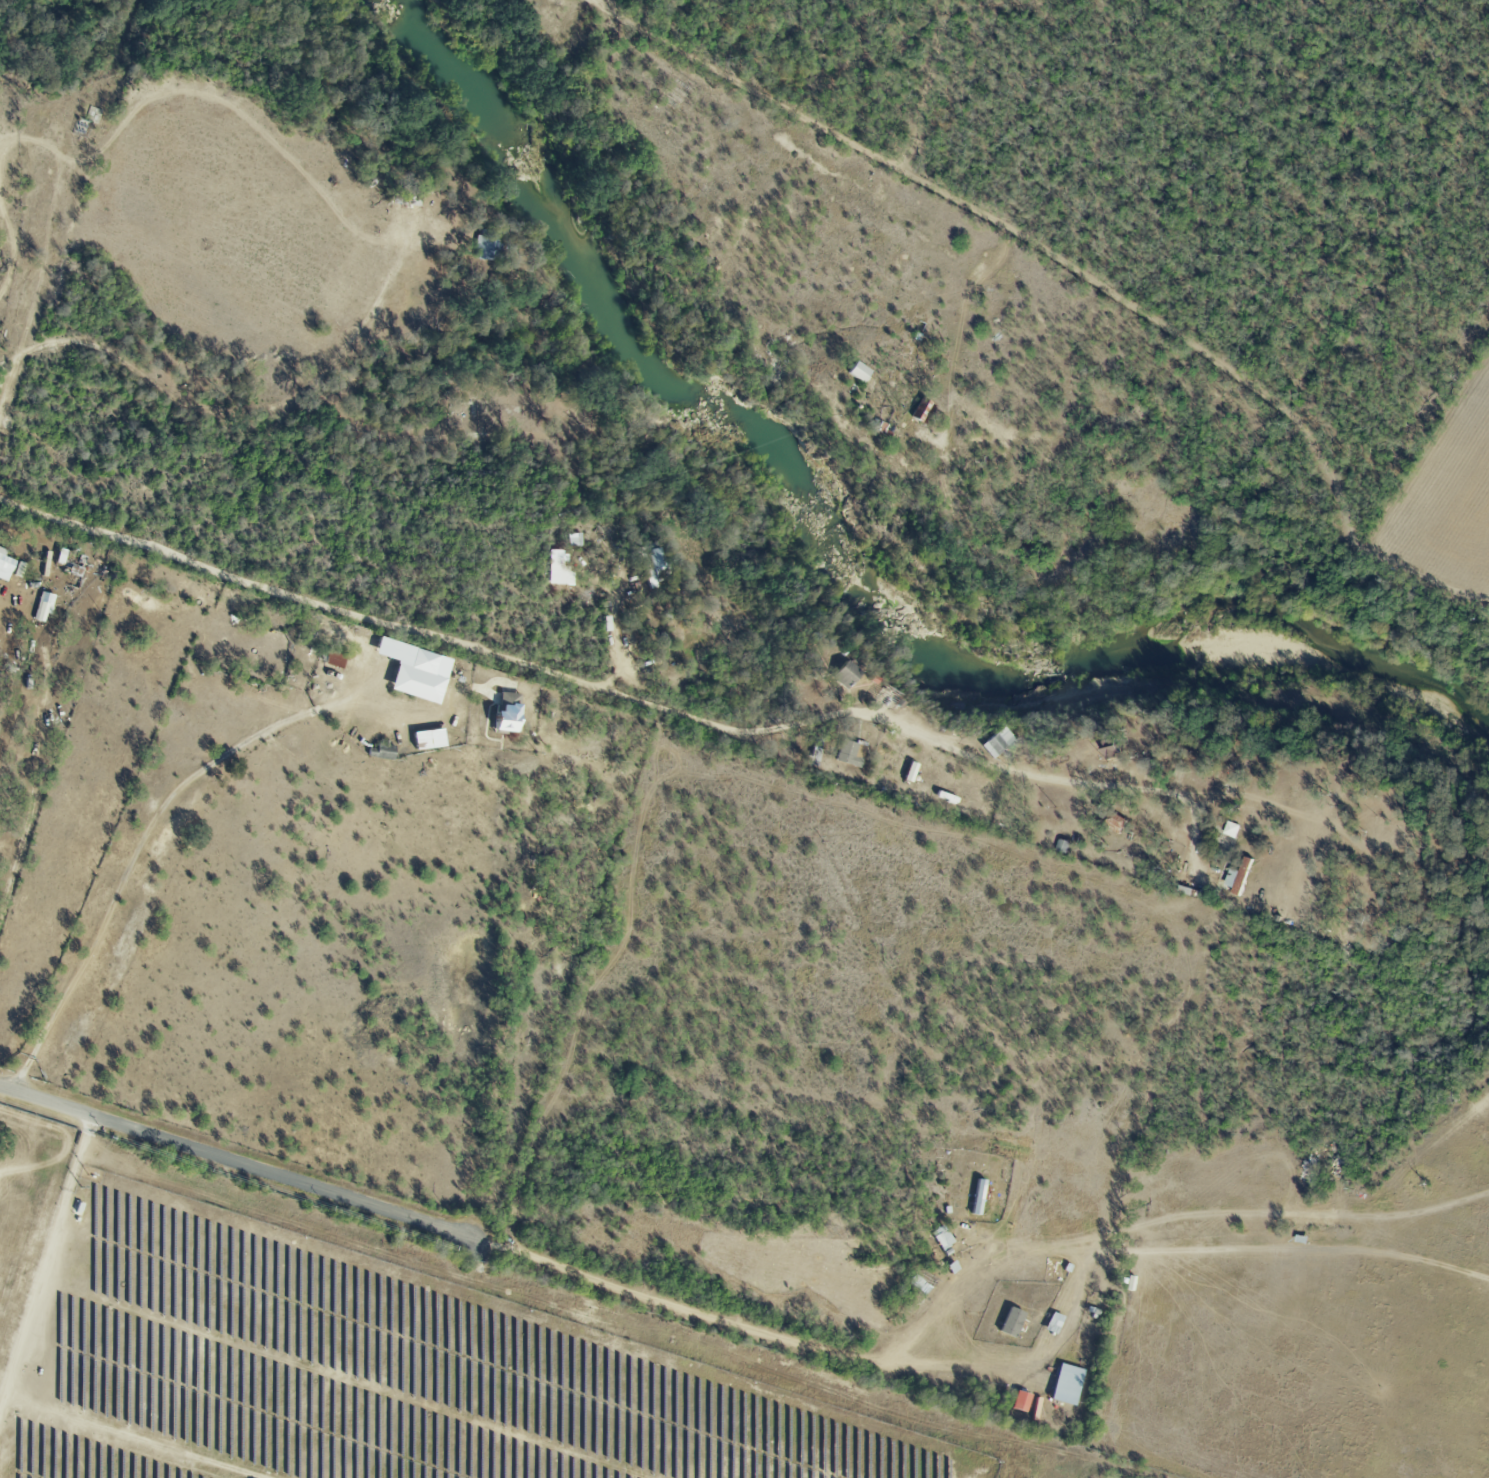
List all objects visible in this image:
road: (672, 5)
building: (484, 245)
road: (910, 363)
building: (859, 371)
road: (1267, 377)
road: (987, 385)
road: (200, 408)
building: (922, 410)
building: (575, 539)
river: (842, 562)
building: (5, 565)
building: (656, 567)
building: (559, 572)
building: (43, 606)
road: (9, 607)
building: (390, 648)
building: (846, 674)
building: (419, 677)
road: (593, 686)
building: (507, 712)
building: (429, 739)
building: (1113, 748)
building: (850, 753)
building: (1231, 829)
road: (128, 867)
building: (1239, 876)
road: (70, 1141)
road: (229, 1161)
wastewater plant: (22, 1194)
building: (941, 1237)
building: (1011, 1322)
road: (900, 1367)
solar farm: (369, 1368)
building: (1067, 1384)

